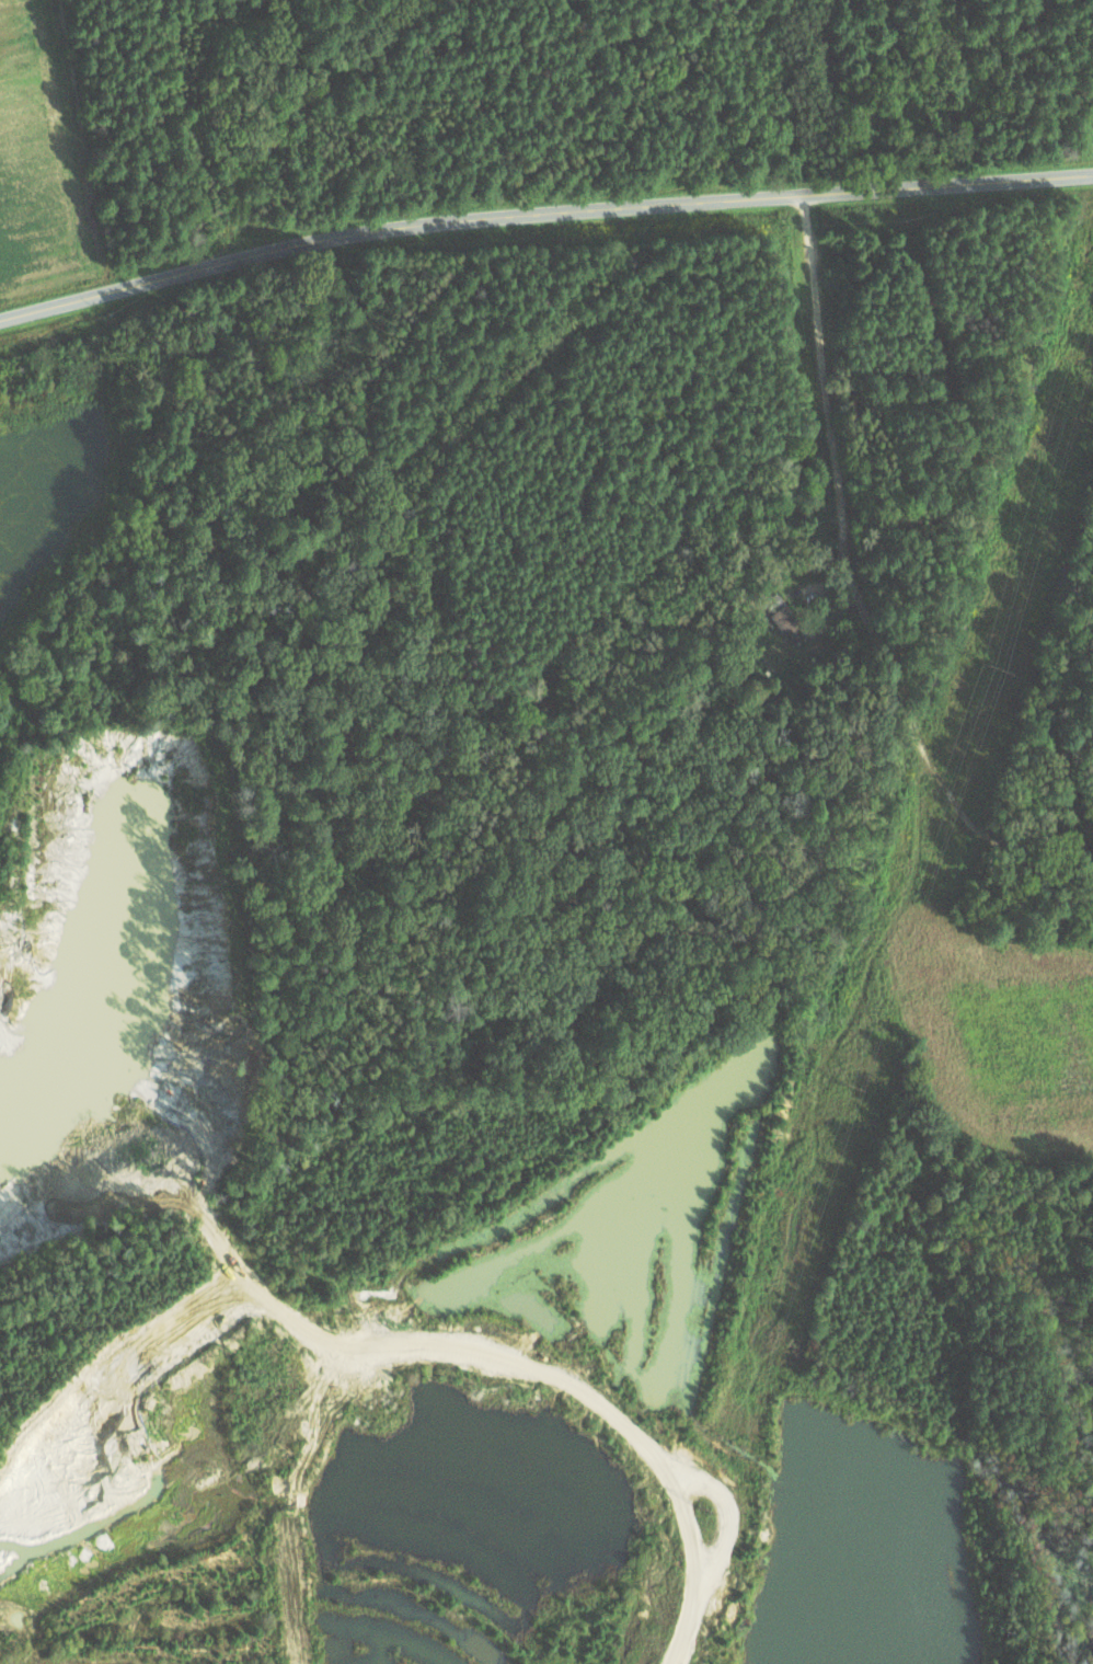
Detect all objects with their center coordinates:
road: (541, 214)
building: (784, 617)
power tower: (990, 668)
power tower: (843, 1089)
power tower: (701, 1514)

